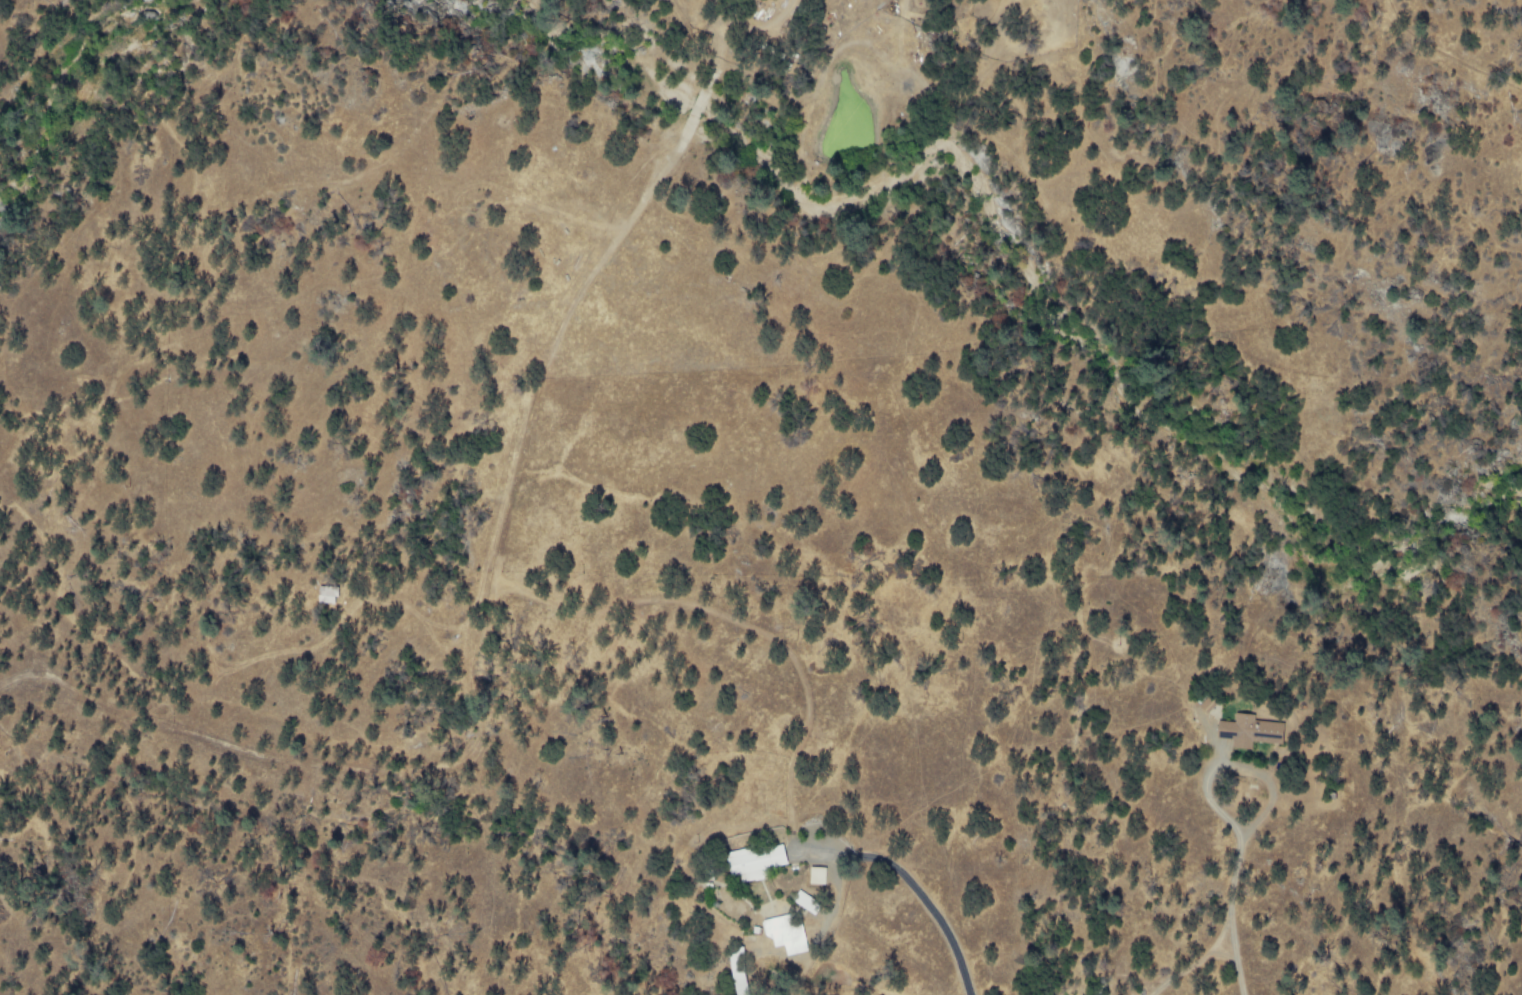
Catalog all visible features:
road: (499, 583)
building: (1255, 732)
road: (1234, 762)
building: (761, 863)
building: (822, 876)
building: (812, 903)
road: (1230, 918)
road: (927, 924)
building: (791, 934)
road: (1193, 959)

